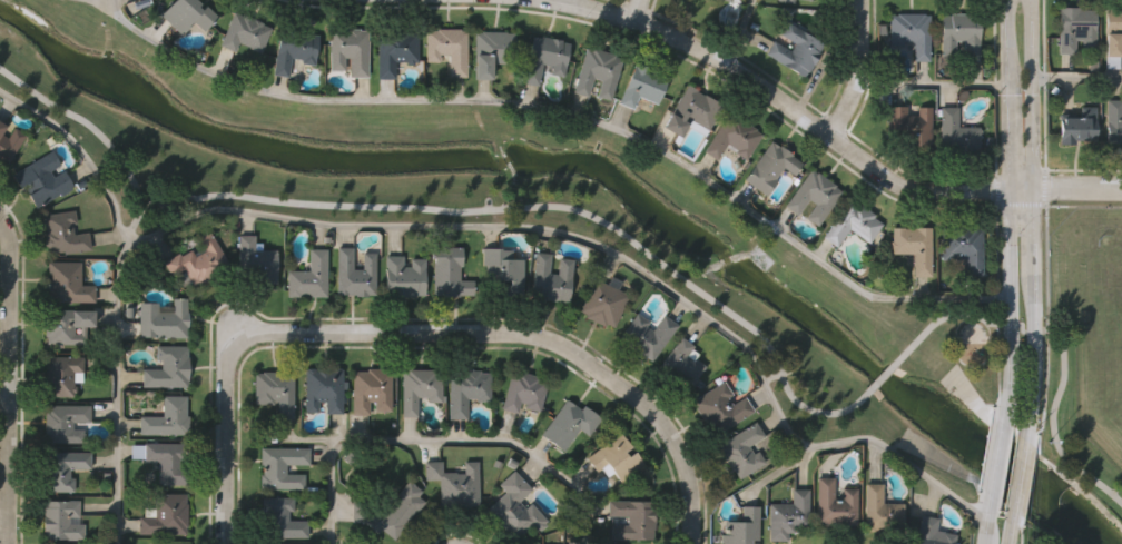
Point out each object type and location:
building: (727, 0)
building: (806, 0)
building: (786, 1)
road: (114, 7)
road: (636, 10)
building: (188, 14)
building: (1076, 28)
building: (246, 31)
road: (740, 32)
building: (911, 32)
building: (959, 33)
building: (1112, 34)
building: (447, 47)
building: (293, 49)
building: (796, 49)
building: (348, 50)
building: (491, 50)
building: (394, 51)
building: (548, 57)
building: (598, 71)
road: (863, 71)
road: (1076, 79)
road: (933, 83)
building: (642, 85)
building: (690, 109)
road: (564, 115)
building: (1114, 121)
building: (911, 123)
building: (1079, 123)
road: (828, 133)
building: (957, 133)
building: (736, 139)
building: (9, 142)
building: (768, 167)
building: (41, 178)
building: (813, 196)
road: (1010, 210)
road: (452, 211)
road: (1032, 212)
building: (852, 225)
road: (512, 229)
building: (63, 233)
building: (963, 246)
building: (913, 247)
building: (198, 259)
building: (256, 260)
building: (502, 269)
building: (449, 273)
building: (354, 274)
building: (308, 276)
building: (403, 277)
building: (550, 278)
building: (67, 283)
building: (604, 301)
building: (163, 319)
building: (66, 327)
road: (424, 333)
building: (648, 335)
road: (1063, 342)
building: (678, 364)
building: (168, 366)
building: (60, 375)
road: (885, 377)
road: (8, 380)
road: (120, 385)
building: (324, 388)
building: (421, 388)
building: (276, 389)
building: (371, 389)
building: (466, 390)
building: (523, 390)
building: (719, 407)
building: (168, 416)
building: (570, 422)
building: (65, 423)
road: (437, 442)
building: (739, 449)
building: (614, 458)
building: (163, 459)
road: (997, 462)
road: (1020, 466)
building: (280, 467)
building: (65, 468)
building: (453, 484)
building: (834, 504)
building: (515, 505)
building: (388, 511)
building: (879, 511)
building: (164, 515)
building: (786, 515)
building: (280, 517)
building: (62, 518)
building: (633, 518)
road: (987, 524)
road: (1010, 525)
building: (740, 527)
building: (929, 532)
building: (171, 543)

